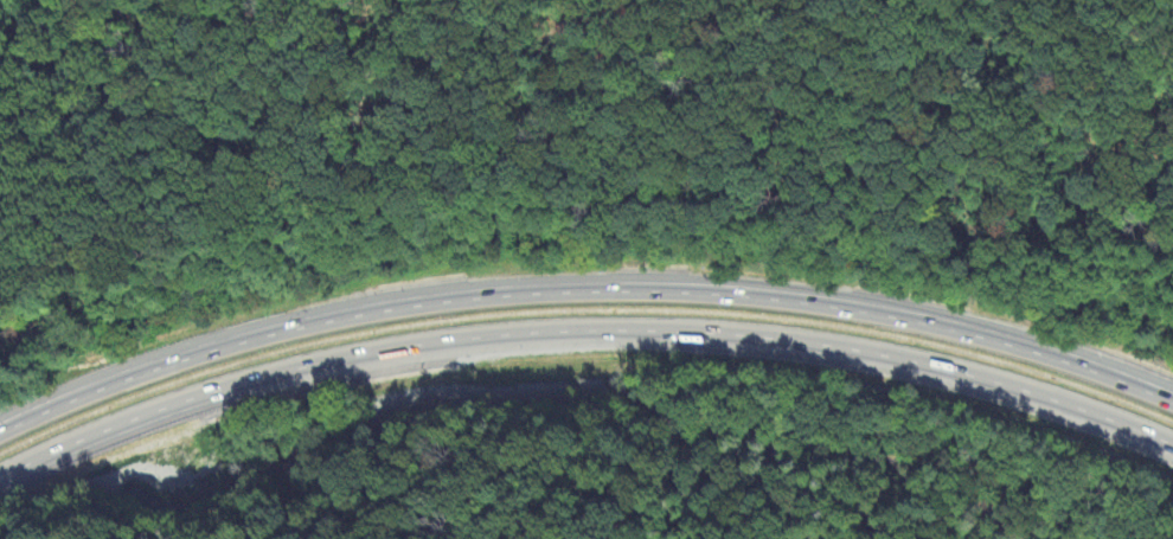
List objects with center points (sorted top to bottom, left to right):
road: (582, 291)
road: (581, 333)

